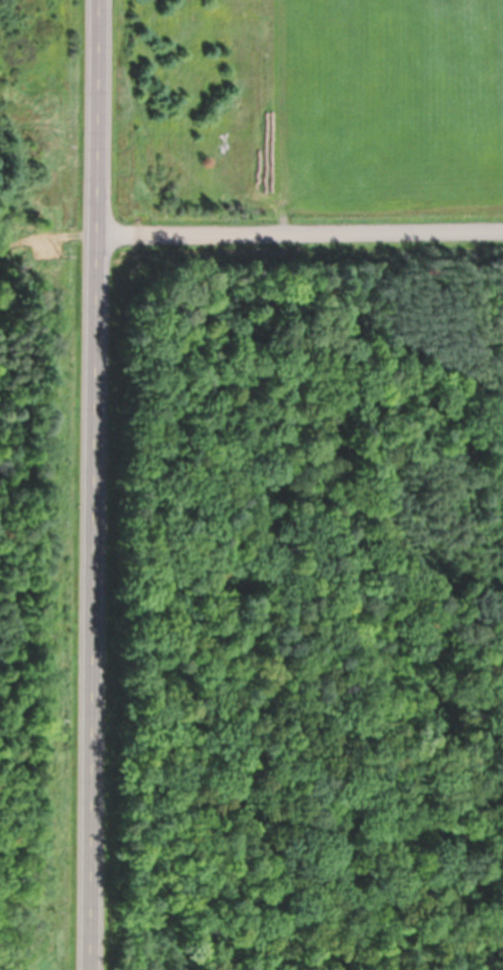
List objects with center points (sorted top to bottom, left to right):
road: (301, 234)
road: (97, 485)

